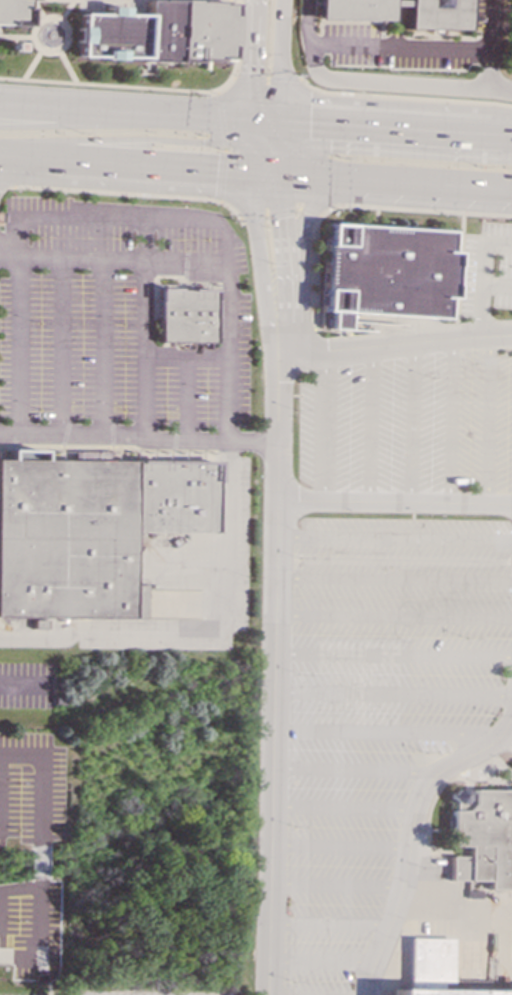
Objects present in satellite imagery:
road: (393, 3)
road: (35, 9)
road: (64, 9)
road: (89, 9)
road: (131, 10)
building: (12, 12)
building: (349, 12)
road: (44, 17)
road: (392, 27)
building: (157, 32)
road: (250, 38)
road: (278, 39)
road: (486, 44)
road: (396, 49)
road: (30, 64)
road: (66, 66)
traffic signals: (250, 72)
road: (258, 77)
road: (272, 77)
road: (240, 78)
road: (287, 79)
road: (373, 83)
road: (156, 88)
road: (402, 96)
road: (250, 99)
road: (278, 100)
road: (74, 107)
road: (200, 116)
road: (220, 119)
road: (265, 122)
road: (74, 123)
traffic signals: (309, 126)
road: (395, 130)
road: (251, 131)
road: (267, 134)
road: (125, 138)
traffic signals: (203, 142)
road: (279, 148)
road: (252, 157)
road: (126, 164)
traffic signals: (217, 171)
road: (266, 173)
road: (222, 175)
road: (395, 180)
road: (4, 185)
road: (510, 187)
road: (128, 193)
road: (357, 205)
road: (308, 212)
road: (269, 213)
road: (119, 218)
traffic signals: (280, 218)
road: (304, 237)
road: (482, 248)
road: (203, 259)
road: (260, 264)
road: (284, 264)
parking lot: (485, 269)
building: (383, 272)
road: (496, 284)
road: (478, 310)
parking lot: (116, 314)
building: (185, 316)
road: (394, 344)
road: (18, 348)
road: (60, 348)
road: (100, 349)
road: (143, 349)
road: (184, 357)
road: (184, 398)
road: (487, 420)
road: (448, 421)
road: (410, 422)
road: (367, 424)
parking lot: (409, 424)
road: (322, 426)
road: (138, 439)
road: (393, 502)
building: (92, 528)
road: (393, 538)
road: (393, 579)
road: (392, 617)
road: (209, 636)
road: (392, 655)
road: (272, 674)
road: (392, 693)
parking lot: (376, 708)
road: (385, 732)
road: (352, 771)
road: (341, 808)
road: (408, 827)
building: (481, 837)
road: (38, 841)
road: (337, 847)
road: (333, 885)
road: (327, 924)
road: (319, 961)
building: (435, 971)
road: (47, 978)

